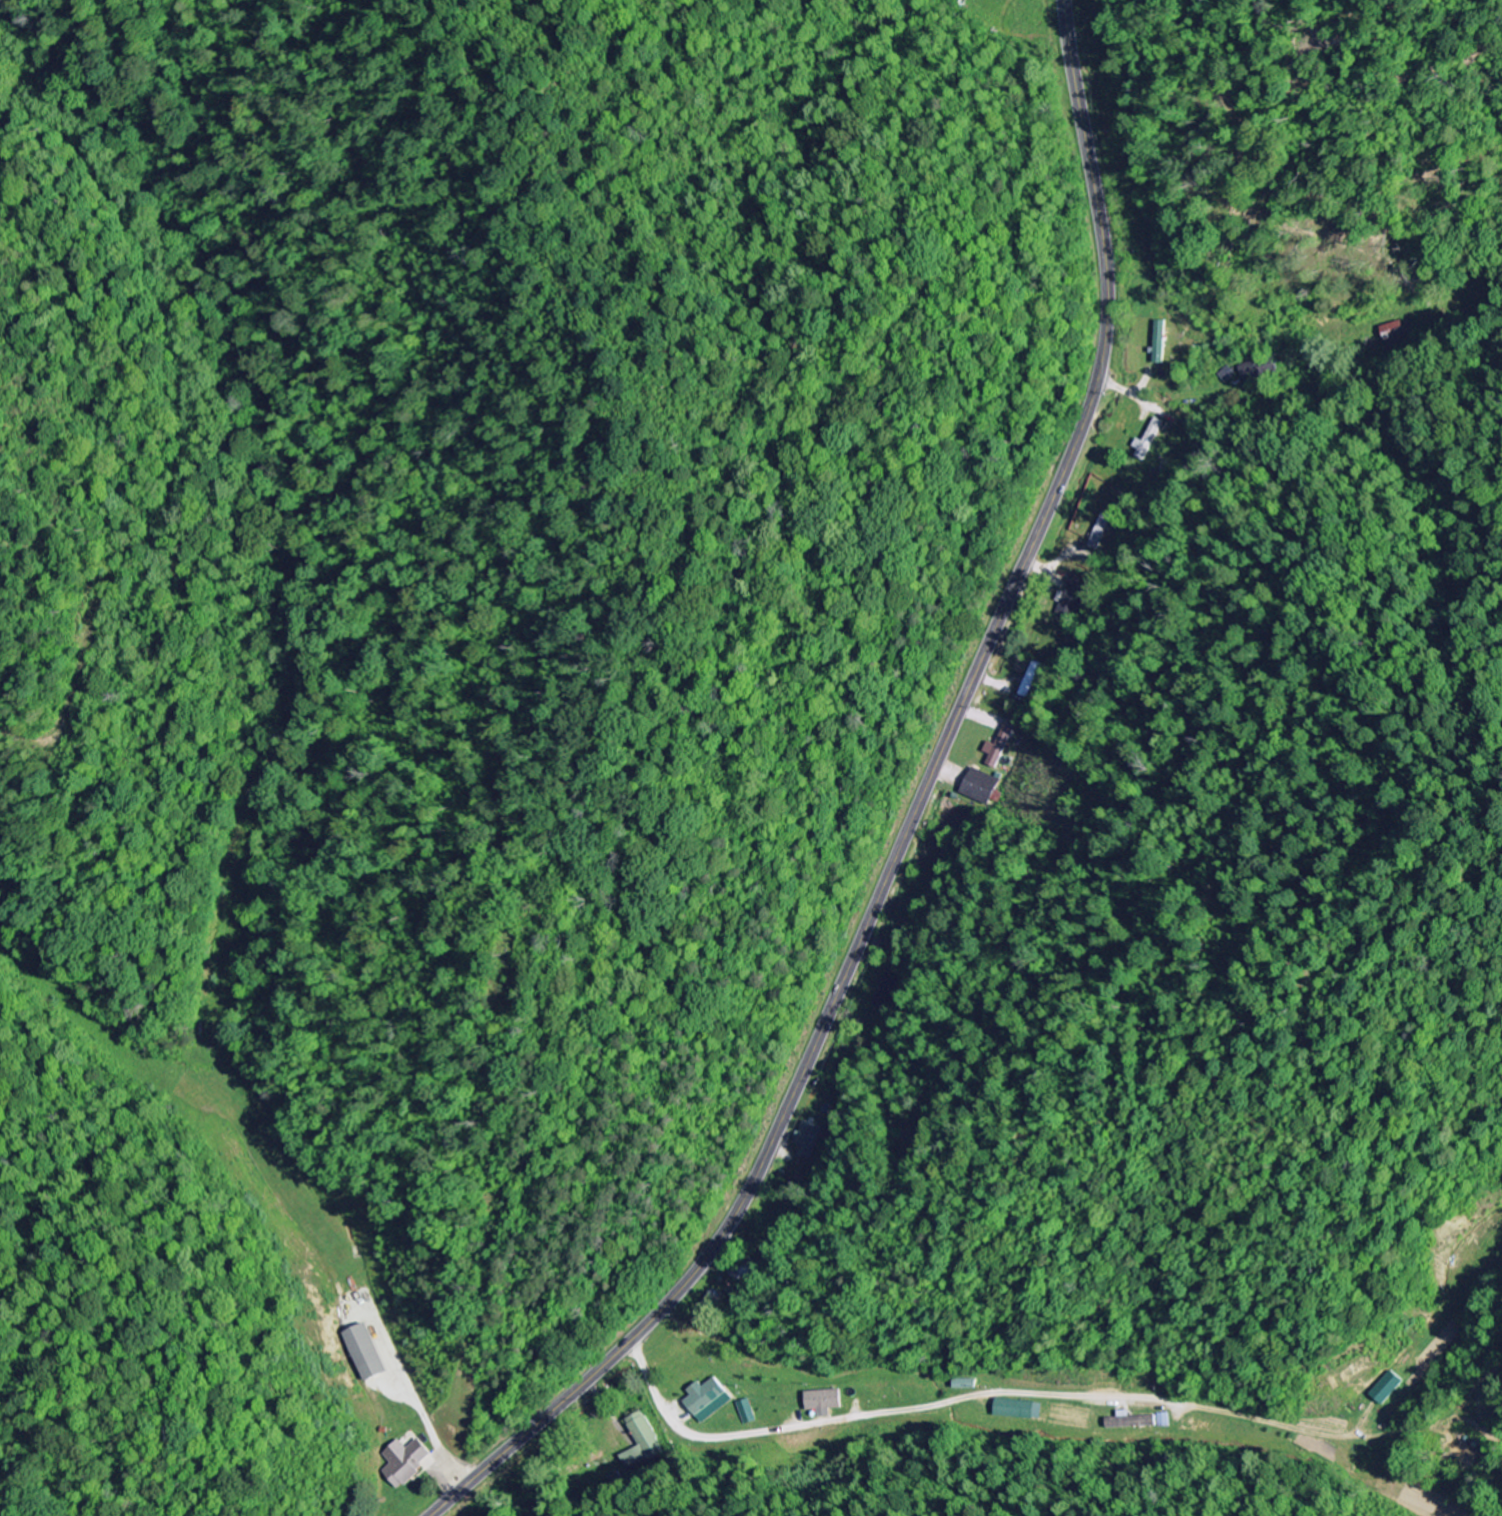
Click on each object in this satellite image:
building: (1160, 343)
building: (1253, 371)
building: (1229, 376)
road: (1110, 383)
building: (1148, 442)
building: (1103, 527)
building: (1072, 602)
building: (1002, 747)
building: (982, 788)
road: (910, 819)
road: (873, 941)
building: (888, 992)
building: (808, 1139)
building: (364, 1353)
building: (964, 1384)
building: (1389, 1388)
building: (708, 1400)
building: (823, 1402)
building: (1018, 1410)
building: (1135, 1426)
building: (643, 1443)
building: (404, 1463)

